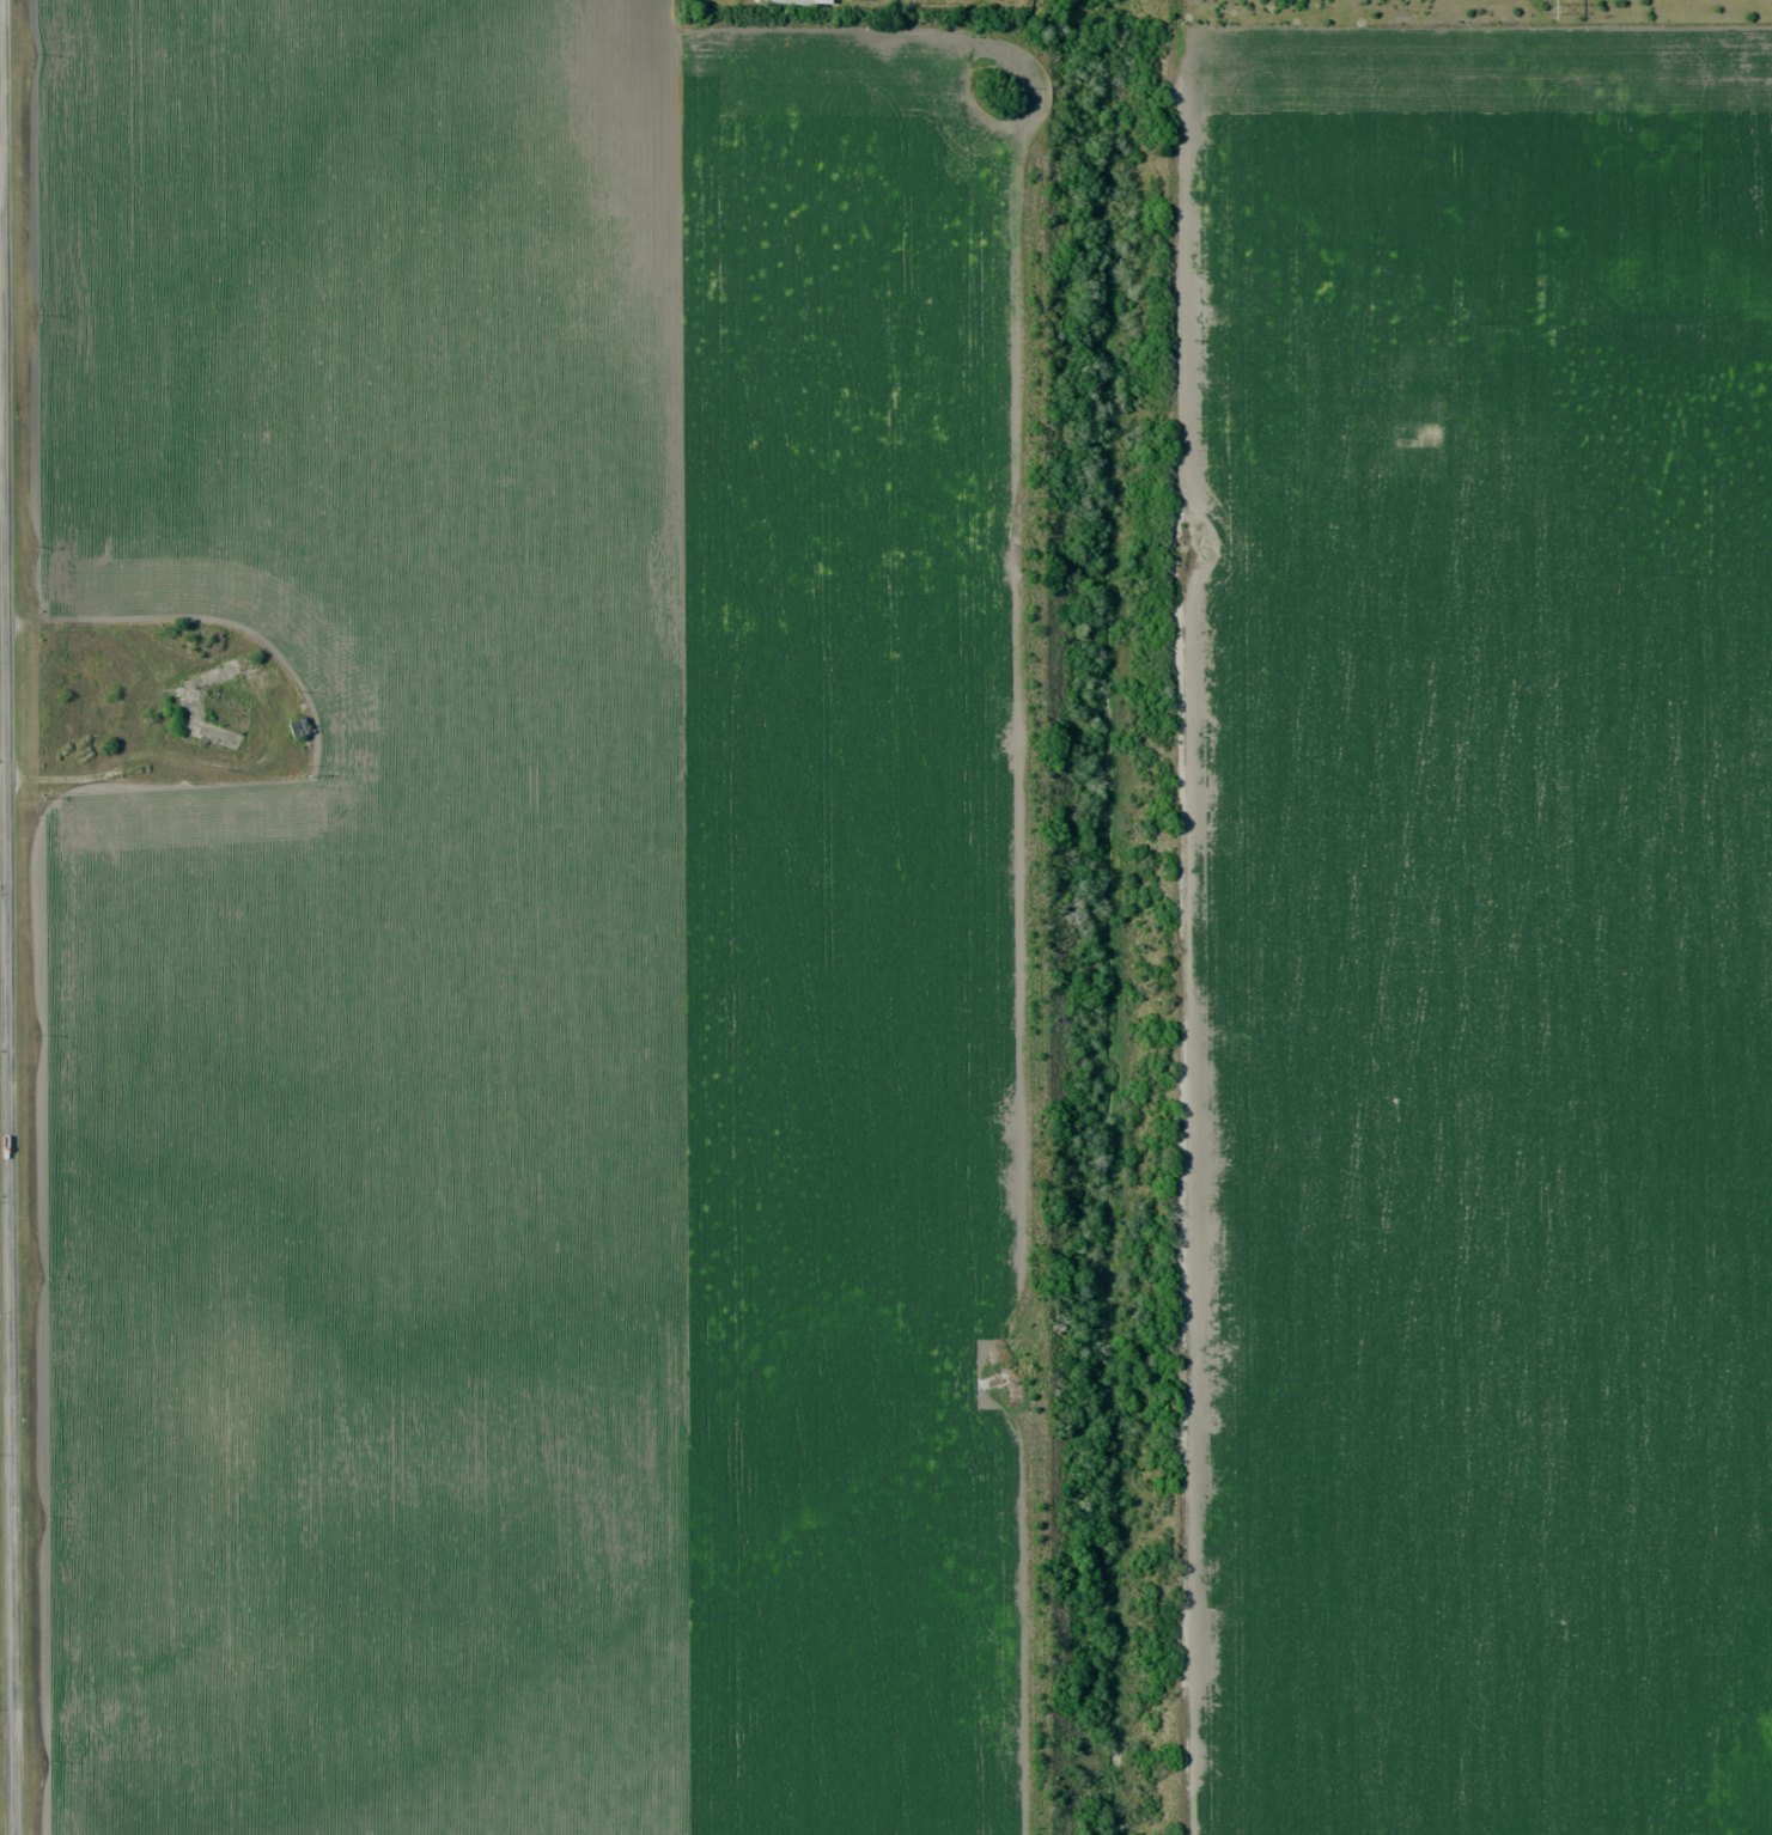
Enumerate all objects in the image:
building: (793, 1)
power tower: (1551, 10)
building: (297, 727)
road: (4, 774)
road: (8, 917)
road: (1182, 1221)

